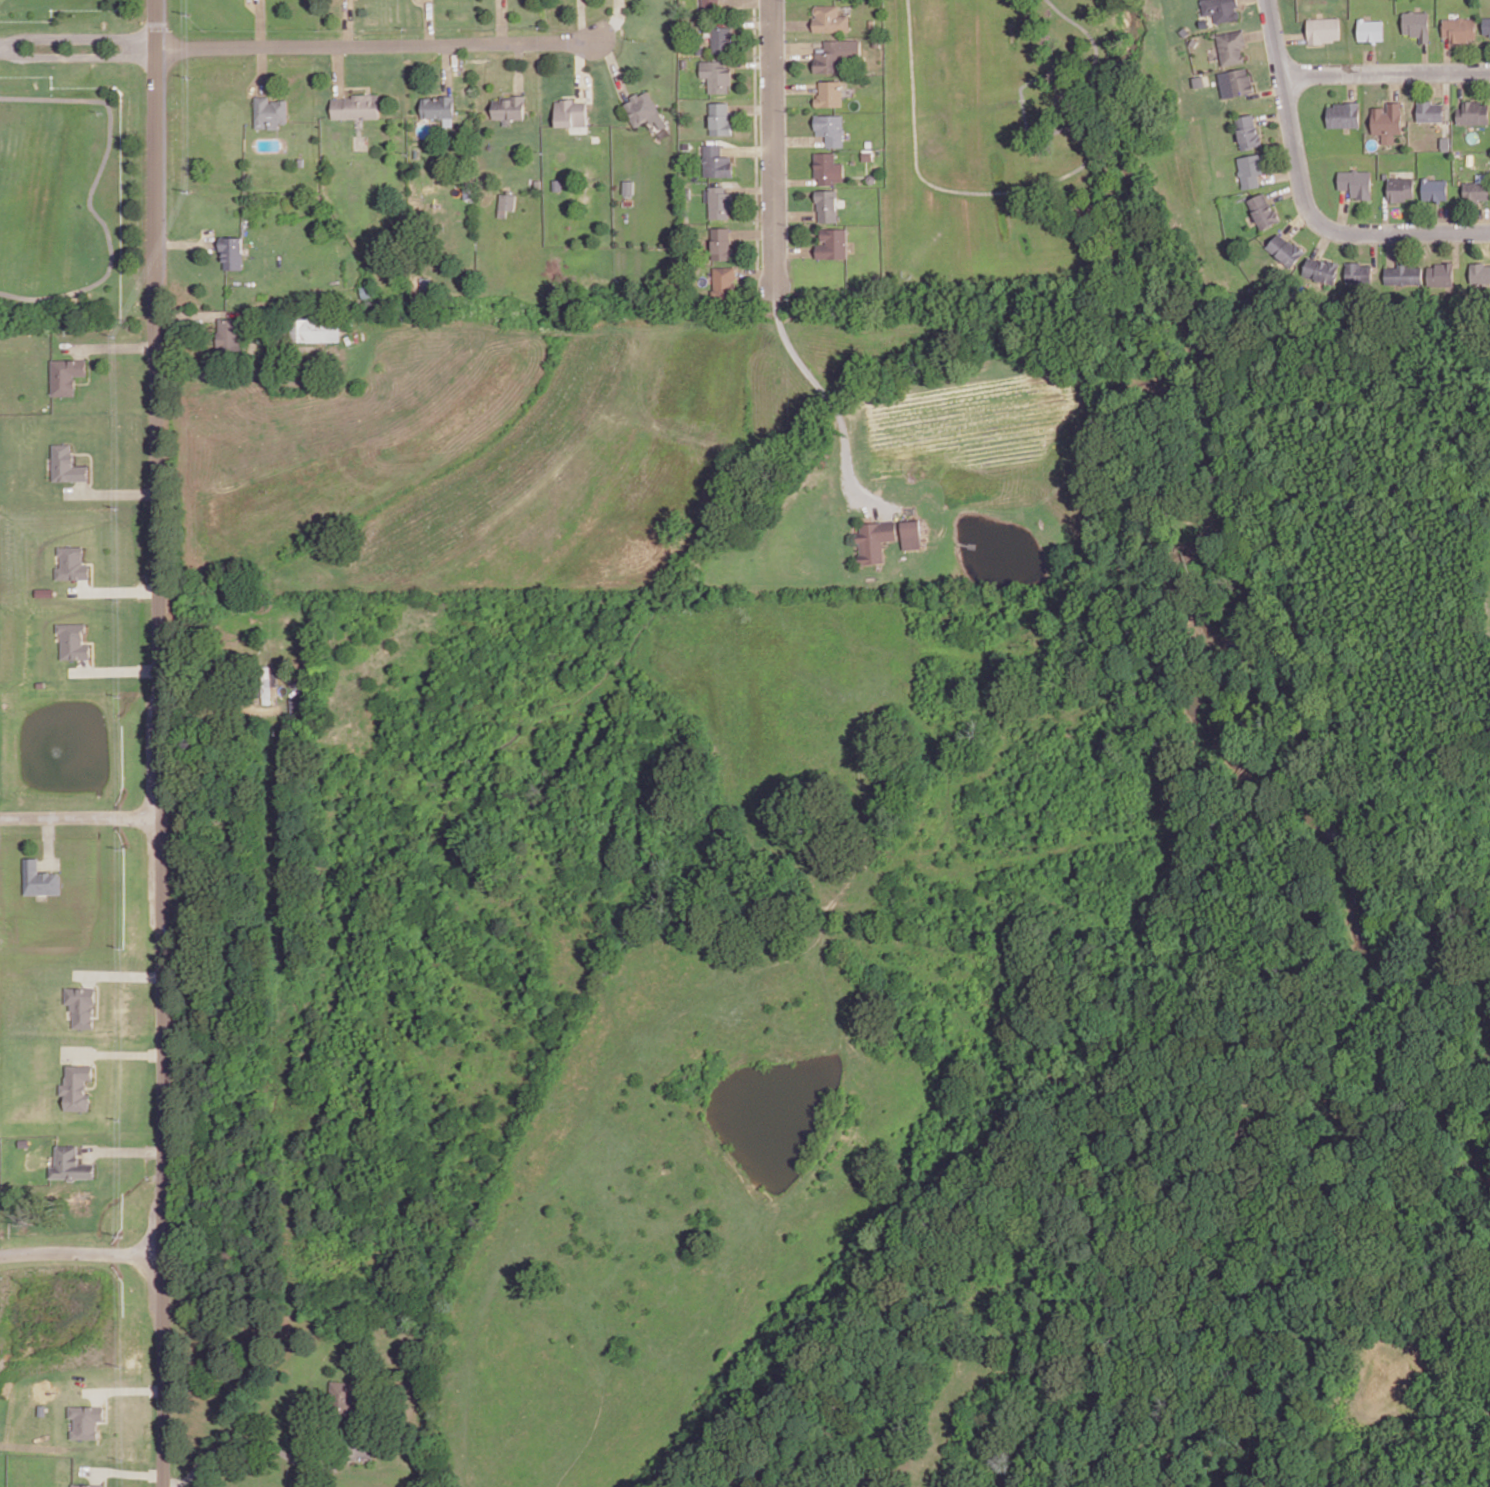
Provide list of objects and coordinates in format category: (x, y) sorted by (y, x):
road: (732, 0)
road: (427, 1)
road: (748, 1)
building: (1474, 2)
building: (711, 3)
building: (1221, 8)
street lamp: (759, 15)
building: (831, 17)
road: (503, 20)
road: (582, 20)
road: (429, 21)
road: (748, 21)
road: (259, 22)
road: (348, 22)
road: (614, 22)
building: (872, 22)
building: (1417, 22)
road: (792, 23)
building: (1487, 23)
building: (1459, 26)
building: (1323, 28)
building: (1371, 28)
building: (1185, 30)
road: (1260, 32)
road: (1290, 35)
road: (78, 37)
building: (723, 37)
building: (1196, 40)
building: (877, 42)
road: (376, 43)
building: (1232, 45)
road: (794, 46)
building: (700, 48)
road: (1447, 53)
road: (78, 54)
building: (830, 55)
road: (1426, 57)
road: (1371, 60)
building: (685, 61)
road: (751, 62)
road: (519, 66)
road: (614, 66)
road: (447, 67)
road: (261, 68)
road: (581, 68)
road: (338, 69)
road: (734, 69)
road: (1385, 71)
building: (717, 73)
building: (1199, 80)
building: (1241, 81)
road: (356, 85)
road: (1352, 85)
road: (1395, 85)
road: (795, 86)
road: (1461, 87)
road: (1267, 91)
building: (830, 92)
road: (1446, 94)
building: (357, 105)
building: (438, 105)
building: (510, 106)
road: (752, 107)
building: (644, 108)
building: (1430, 109)
building: (269, 111)
building: (571, 111)
building: (1474, 111)
building: (1345, 113)
road: (1288, 115)
road: (734, 116)
road: (1272, 116)
building: (721, 117)
building: (1388, 117)
building: (831, 127)
building: (1248, 131)
road: (756, 136)
road: (799, 139)
building: (1445, 140)
road: (774, 143)
building: (1404, 146)
road: (749, 149)
building: (868, 154)
park: (67, 160)
building: (299, 160)
building: (717, 160)
building: (829, 167)
building: (1252, 168)
road: (1280, 173)
building: (1385, 174)
road: (1061, 176)
road: (796, 180)
building: (1357, 181)
building: (538, 182)
building: (557, 183)
building: (629, 185)
building: (1434, 187)
road: (753, 188)
building: (1401, 188)
road: (1285, 190)
building: (1477, 190)
road: (91, 192)
building: (688, 192)
building: (507, 200)
building: (720, 200)
building: (828, 203)
road: (1394, 203)
building: (1264, 210)
road: (1343, 210)
building: (502, 212)
road: (795, 213)
road: (1386, 214)
road: (1445, 219)
road: (1483, 219)
road: (1296, 221)
road: (1405, 231)
road: (754, 232)
road: (1322, 241)
building: (721, 242)
building: (834, 242)
road: (185, 243)
street lamp: (1346, 246)
road: (1456, 247)
road: (1391, 248)
building: (1285, 249)
road: (1374, 249)
building: (232, 250)
road: (795, 250)
building: (1321, 268)
building: (1359, 271)
building: (1480, 271)
road: (757, 272)
building: (1402, 273)
building: (1442, 273)
building: (724, 281)
road: (197, 314)
building: (316, 328)
building: (230, 335)
road: (112, 346)
road: (89, 368)
building: (66, 374)
road: (306, 383)
road: (833, 400)
building: (67, 463)
building: (19, 464)
road: (113, 492)
building: (912, 533)
building: (875, 538)
pier: (968, 544)
building: (72, 563)
building: (73, 640)
road: (161, 743)
road: (81, 815)
road: (49, 840)
building: (39, 877)
building: (81, 1005)
road: (114, 1052)
road: (96, 1072)
building: (76, 1086)
road: (125, 1150)
building: (71, 1163)
street lamp: (3, 1245)
road: (82, 1251)
road: (125, 1389)
building: (341, 1396)
road: (107, 1409)
building: (87, 1418)
road: (260, 1441)
building: (380, 1449)
road: (123, 1471)
road: (105, 1478)
building: (88, 1485)

